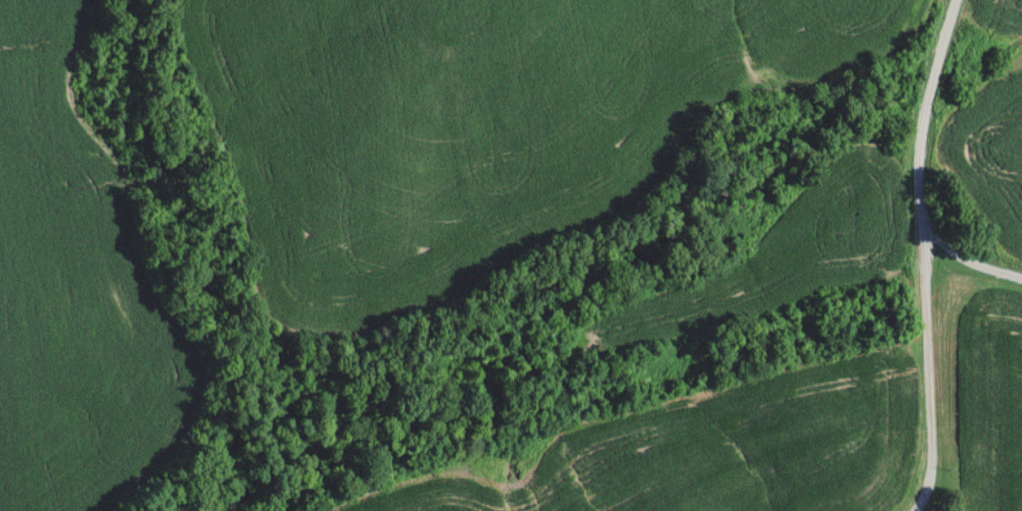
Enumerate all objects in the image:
crop: (483, 127)
road: (923, 256)
road: (968, 266)

